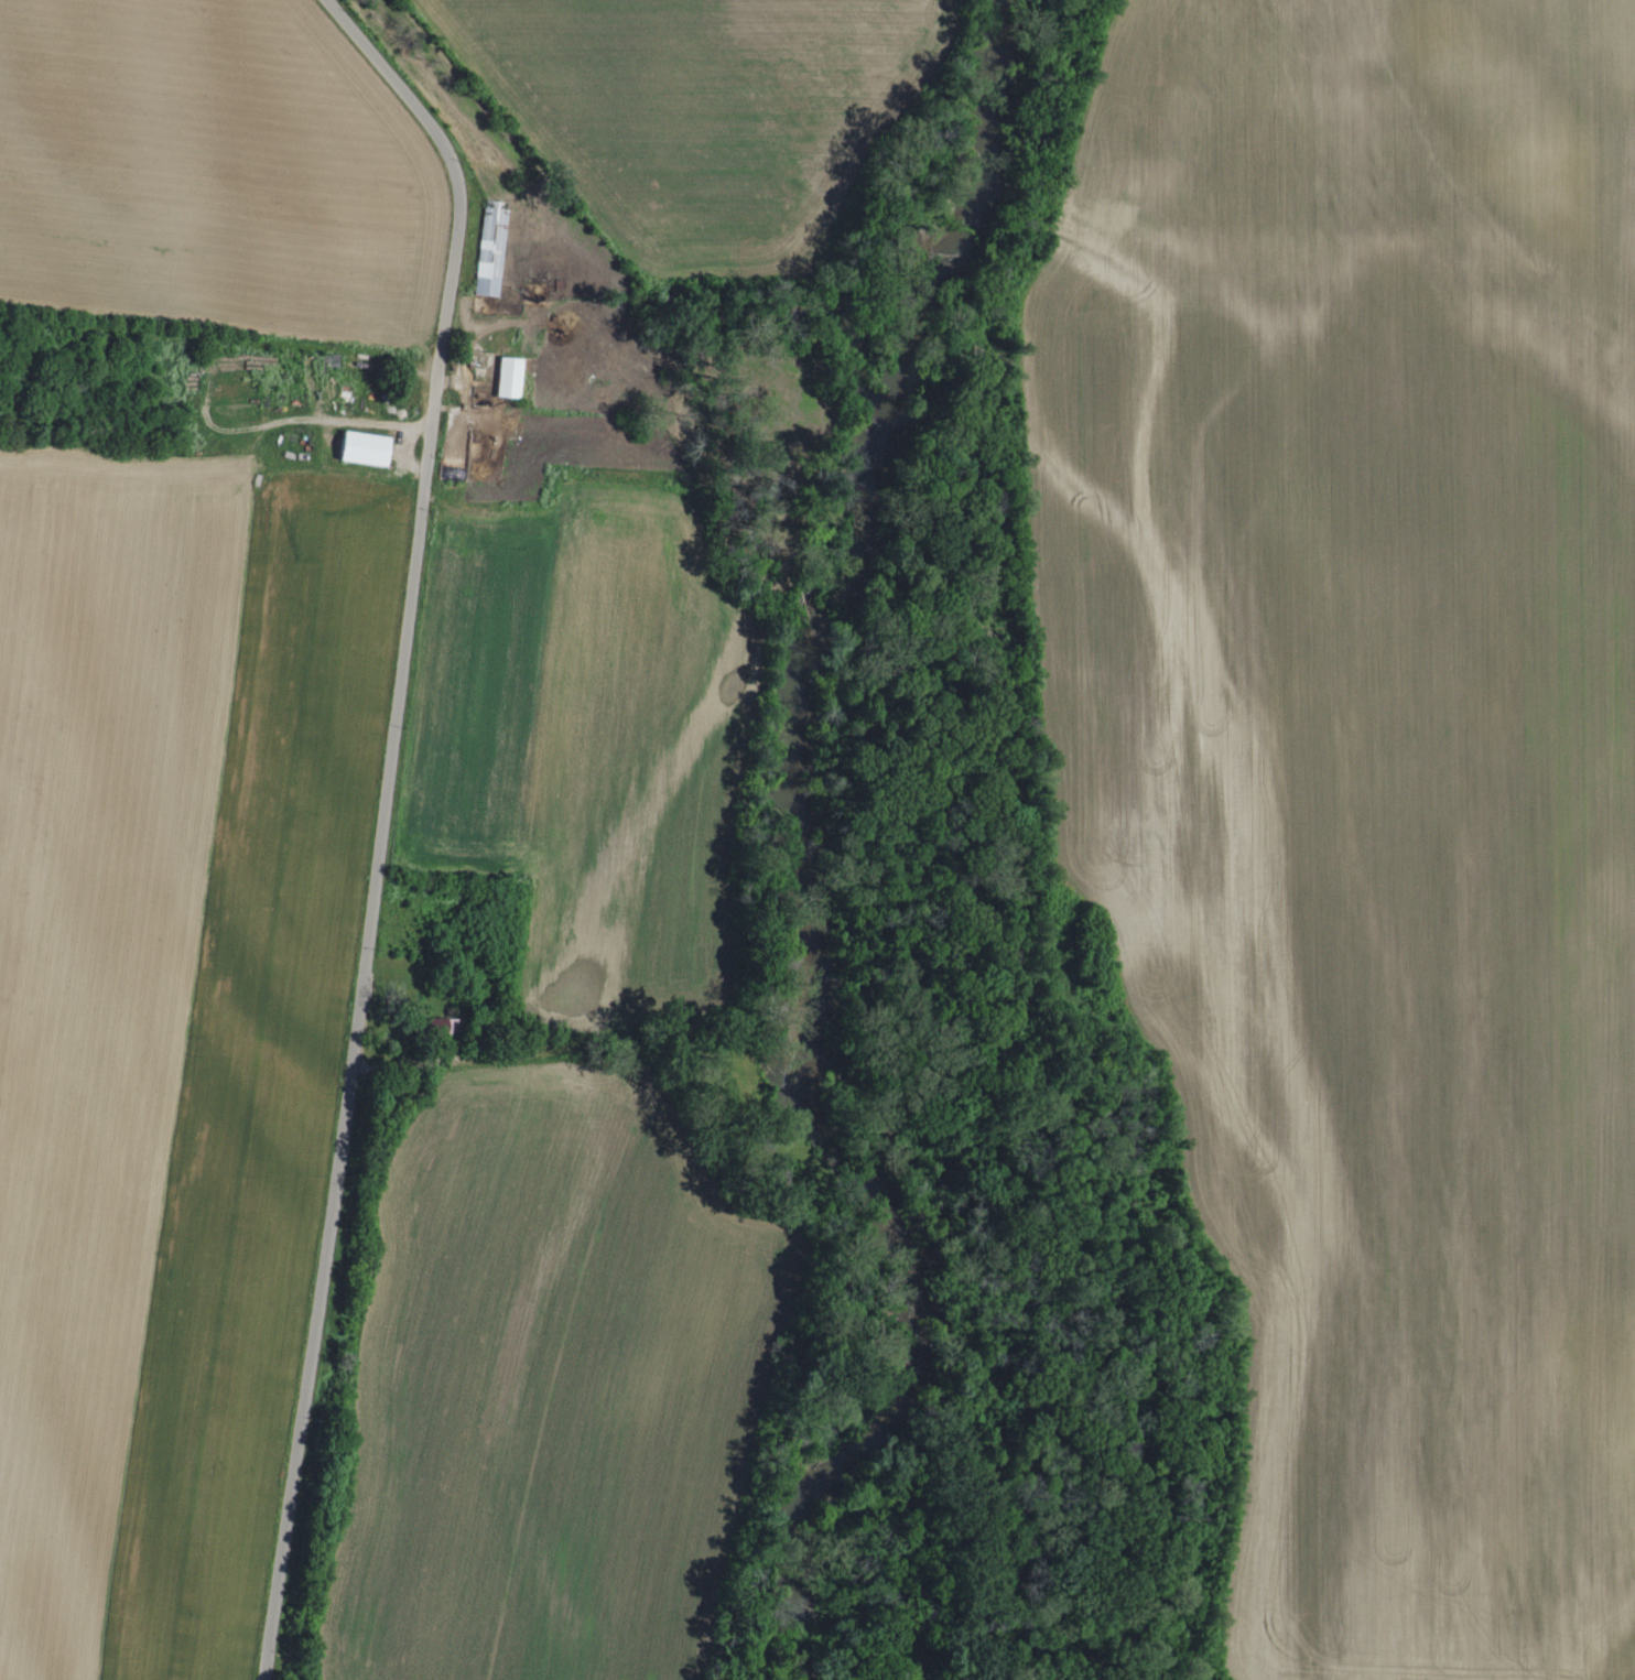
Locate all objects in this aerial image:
building: (494, 246)
building: (513, 376)
building: (369, 446)
road: (382, 819)
road: (548, 1051)
road: (416, 1062)

